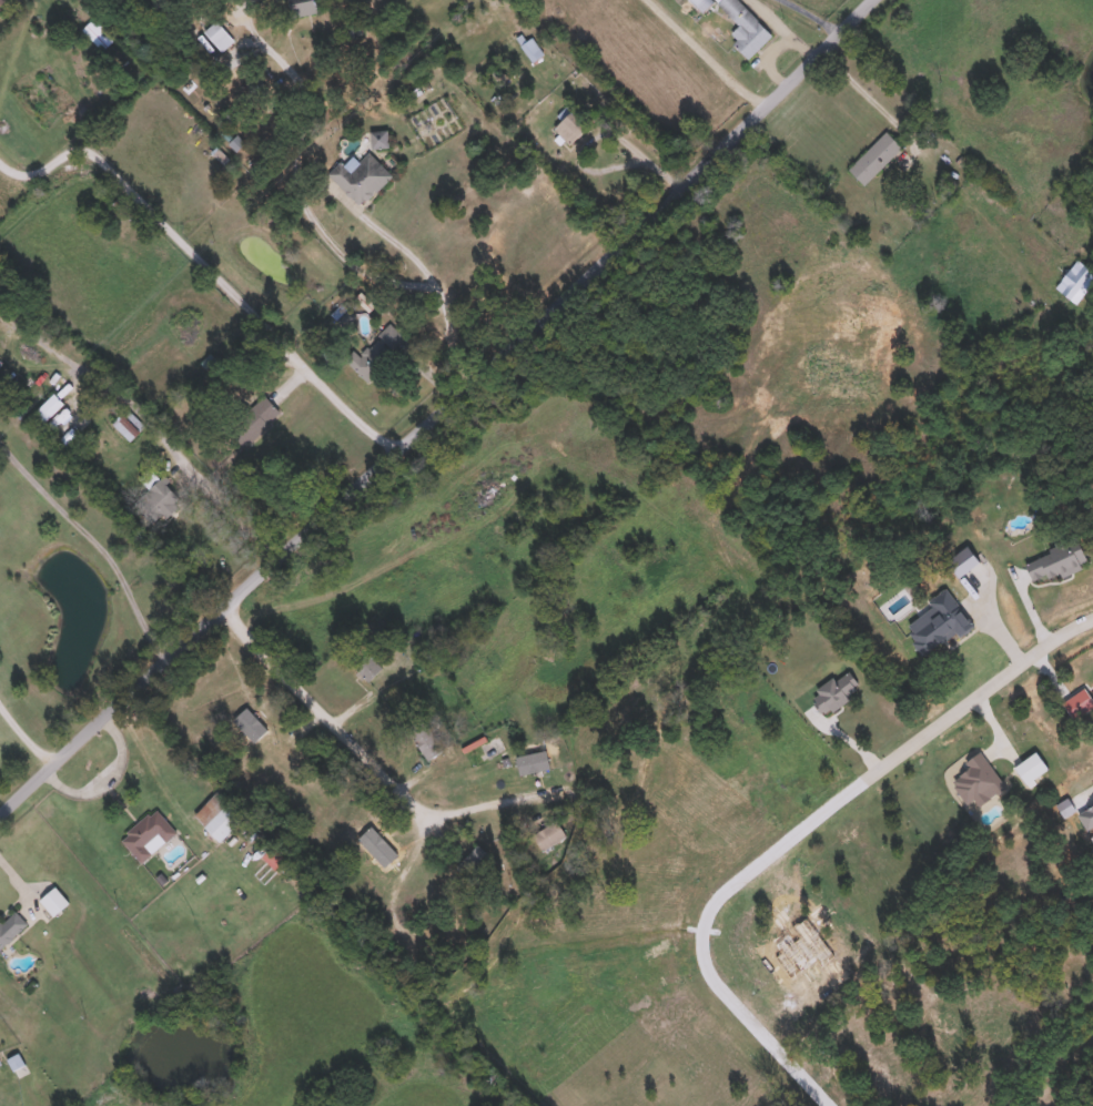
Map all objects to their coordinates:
building: (2, 2)
building: (702, 3)
building: (301, 7)
road: (827, 12)
building: (746, 27)
building: (219, 34)
building: (532, 48)
road: (709, 55)
building: (570, 126)
building: (378, 139)
building: (874, 158)
road: (933, 162)
building: (361, 175)
road: (209, 257)
road: (431, 277)
building: (1075, 281)
building: (377, 351)
building: (48, 406)
road: (442, 415)
building: (253, 419)
road: (168, 433)
building: (492, 465)
building: (156, 500)
road: (97, 541)
building: (364, 662)
building: (656, 714)
road: (333, 719)
building: (251, 727)
road: (26, 737)
building: (424, 738)
road: (107, 777)
road: (1089, 785)
road: (496, 794)
building: (219, 815)
building: (538, 821)
building: (149, 833)
road: (798, 833)
building: (274, 856)
building: (473, 861)
road: (403, 869)
building: (54, 900)
building: (10, 923)
building: (439, 937)

